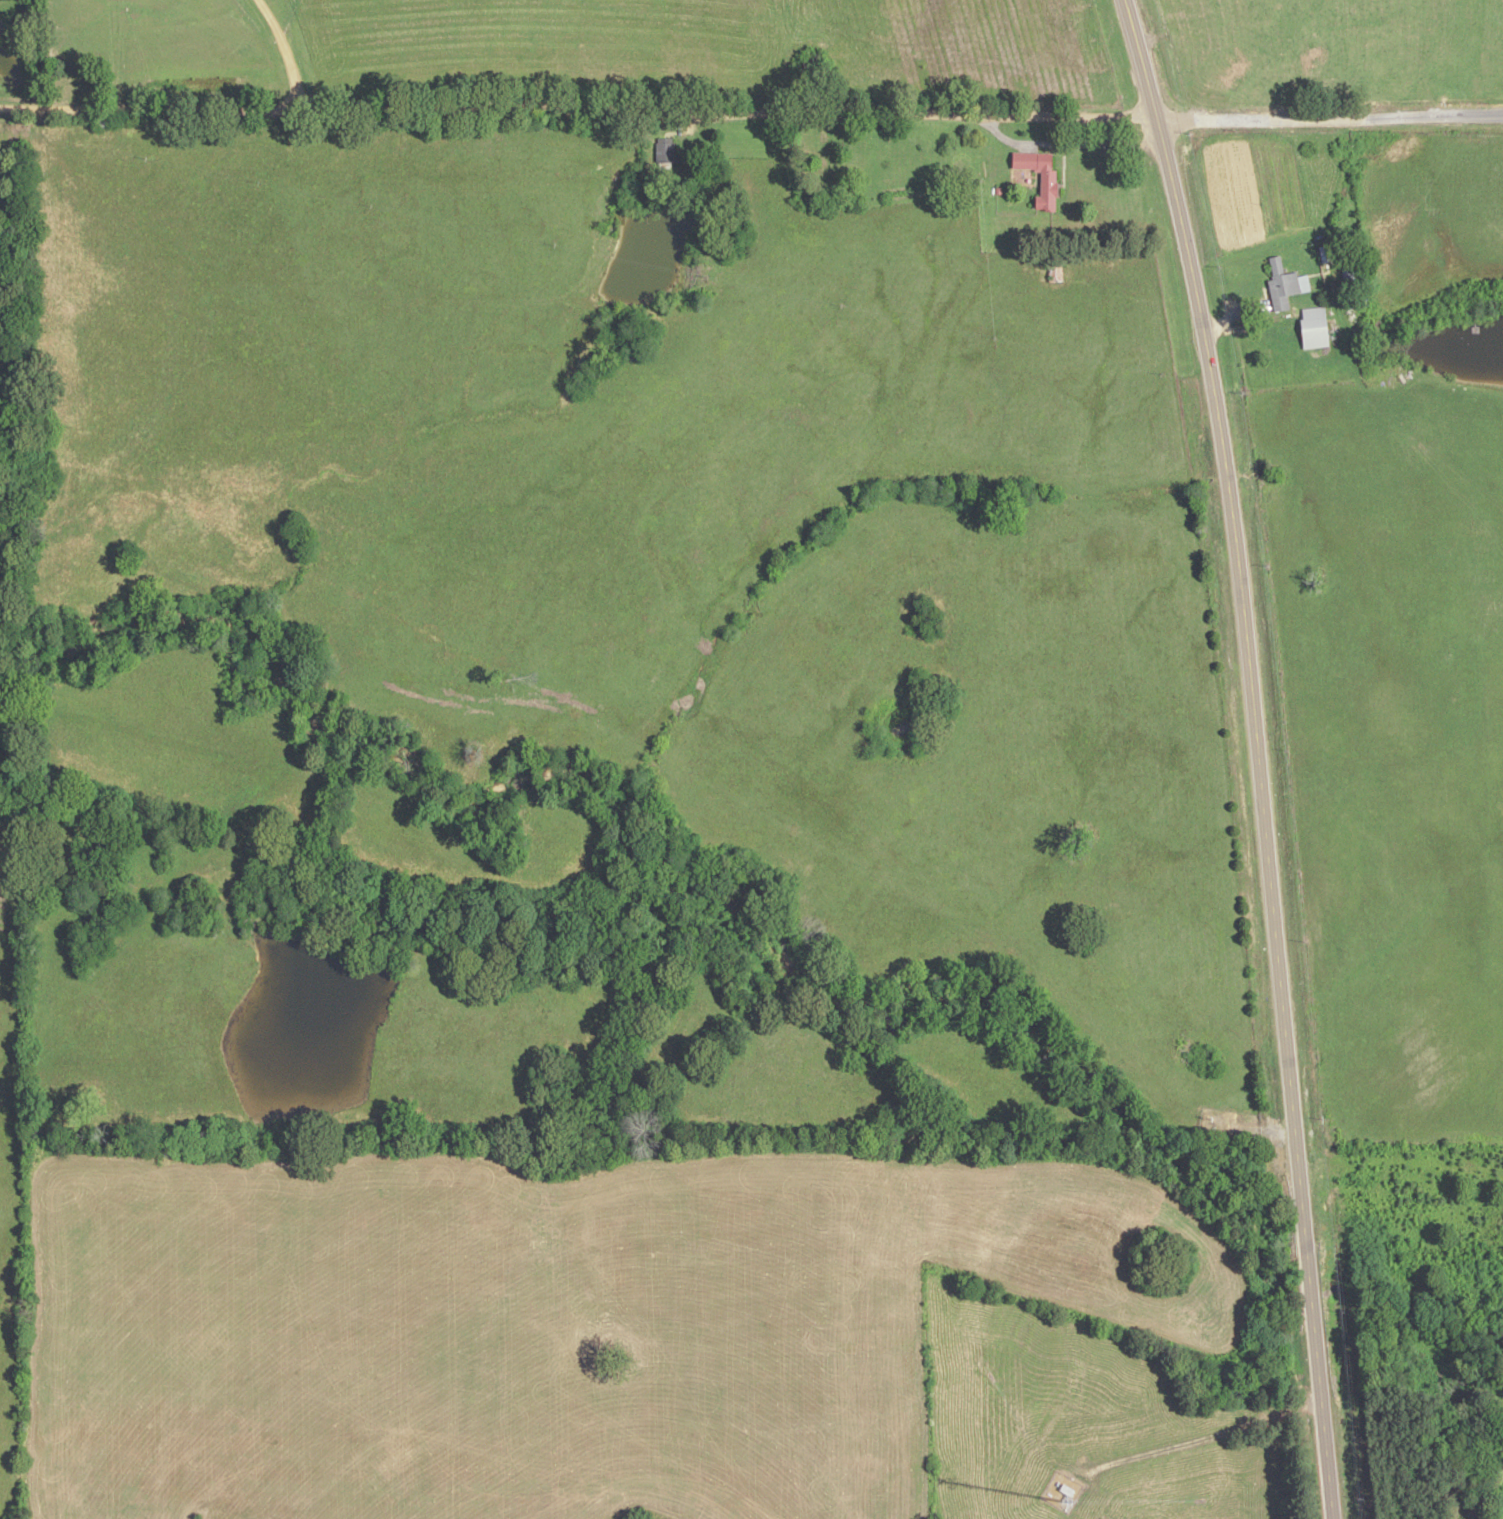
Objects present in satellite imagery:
road: (283, 49)
road: (751, 113)
building: (101, 122)
building: (666, 153)
building: (838, 167)
building: (1040, 177)
building: (1054, 269)
building: (1347, 271)
building: (1284, 284)
building: (1314, 327)
road: (1257, 754)

